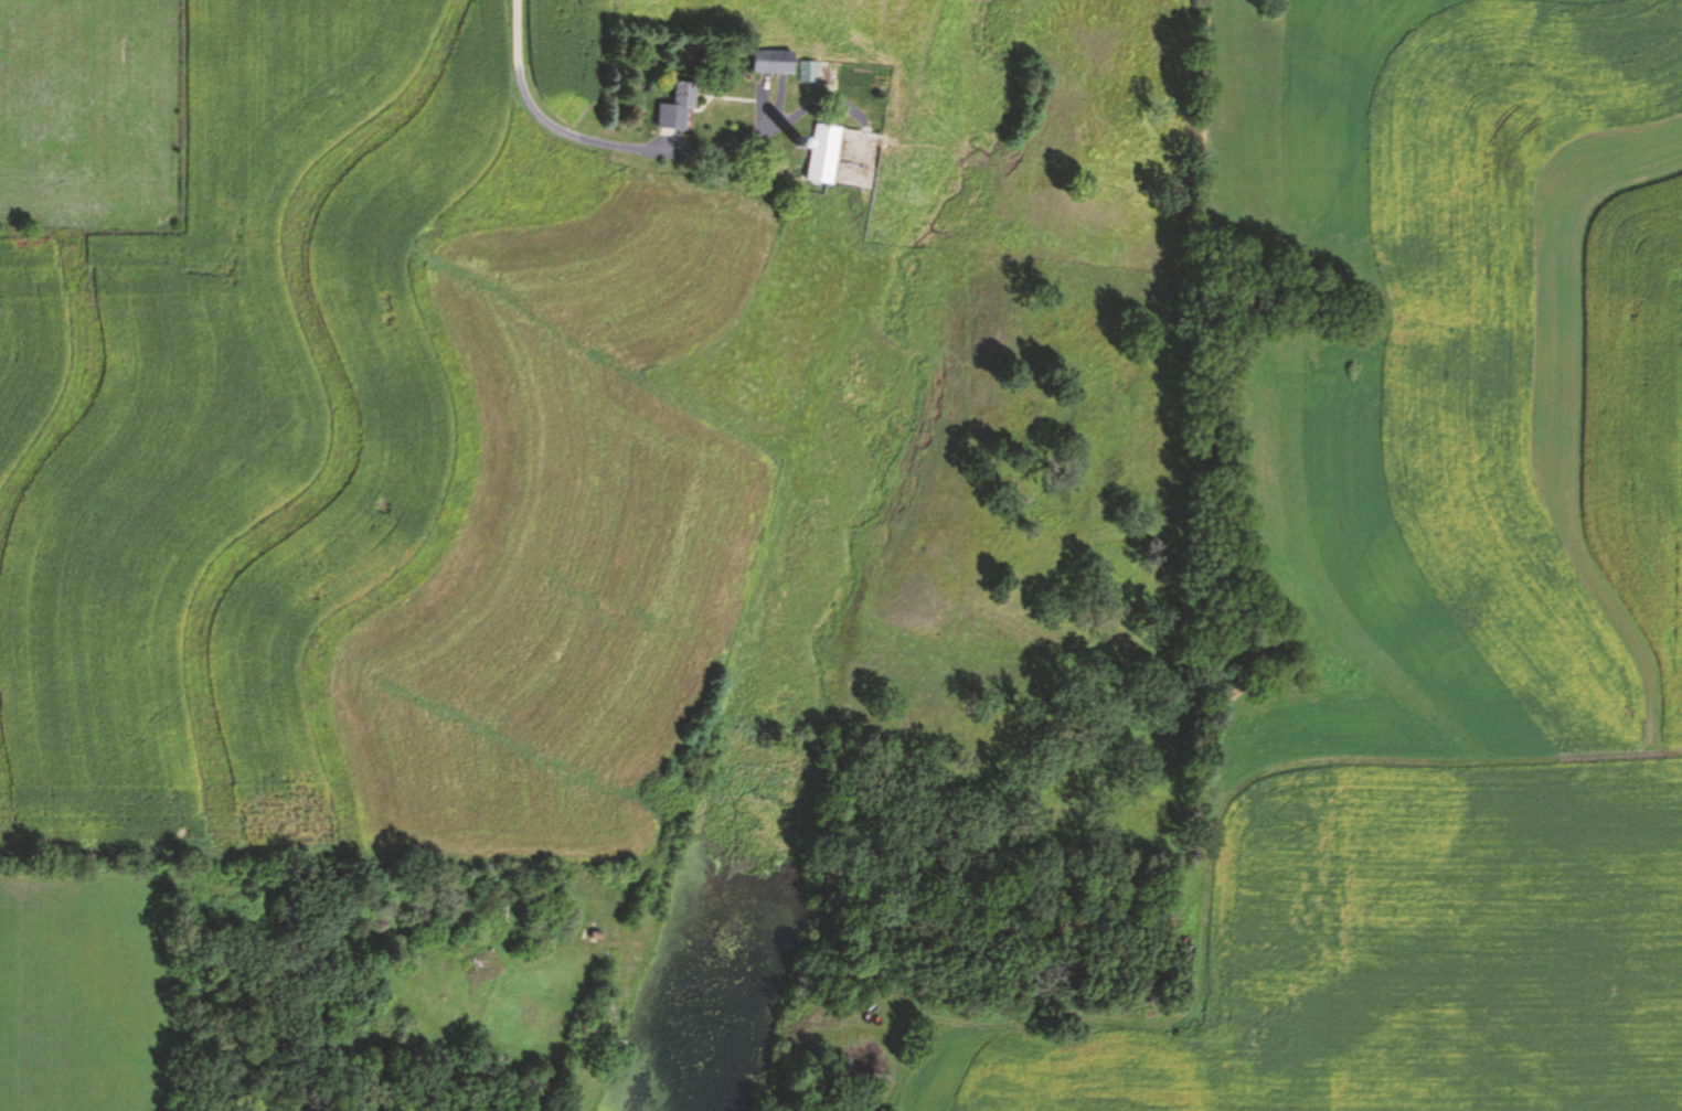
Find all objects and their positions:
building: (775, 61)
building: (810, 72)
building: (680, 108)
road: (652, 148)
building: (826, 153)

